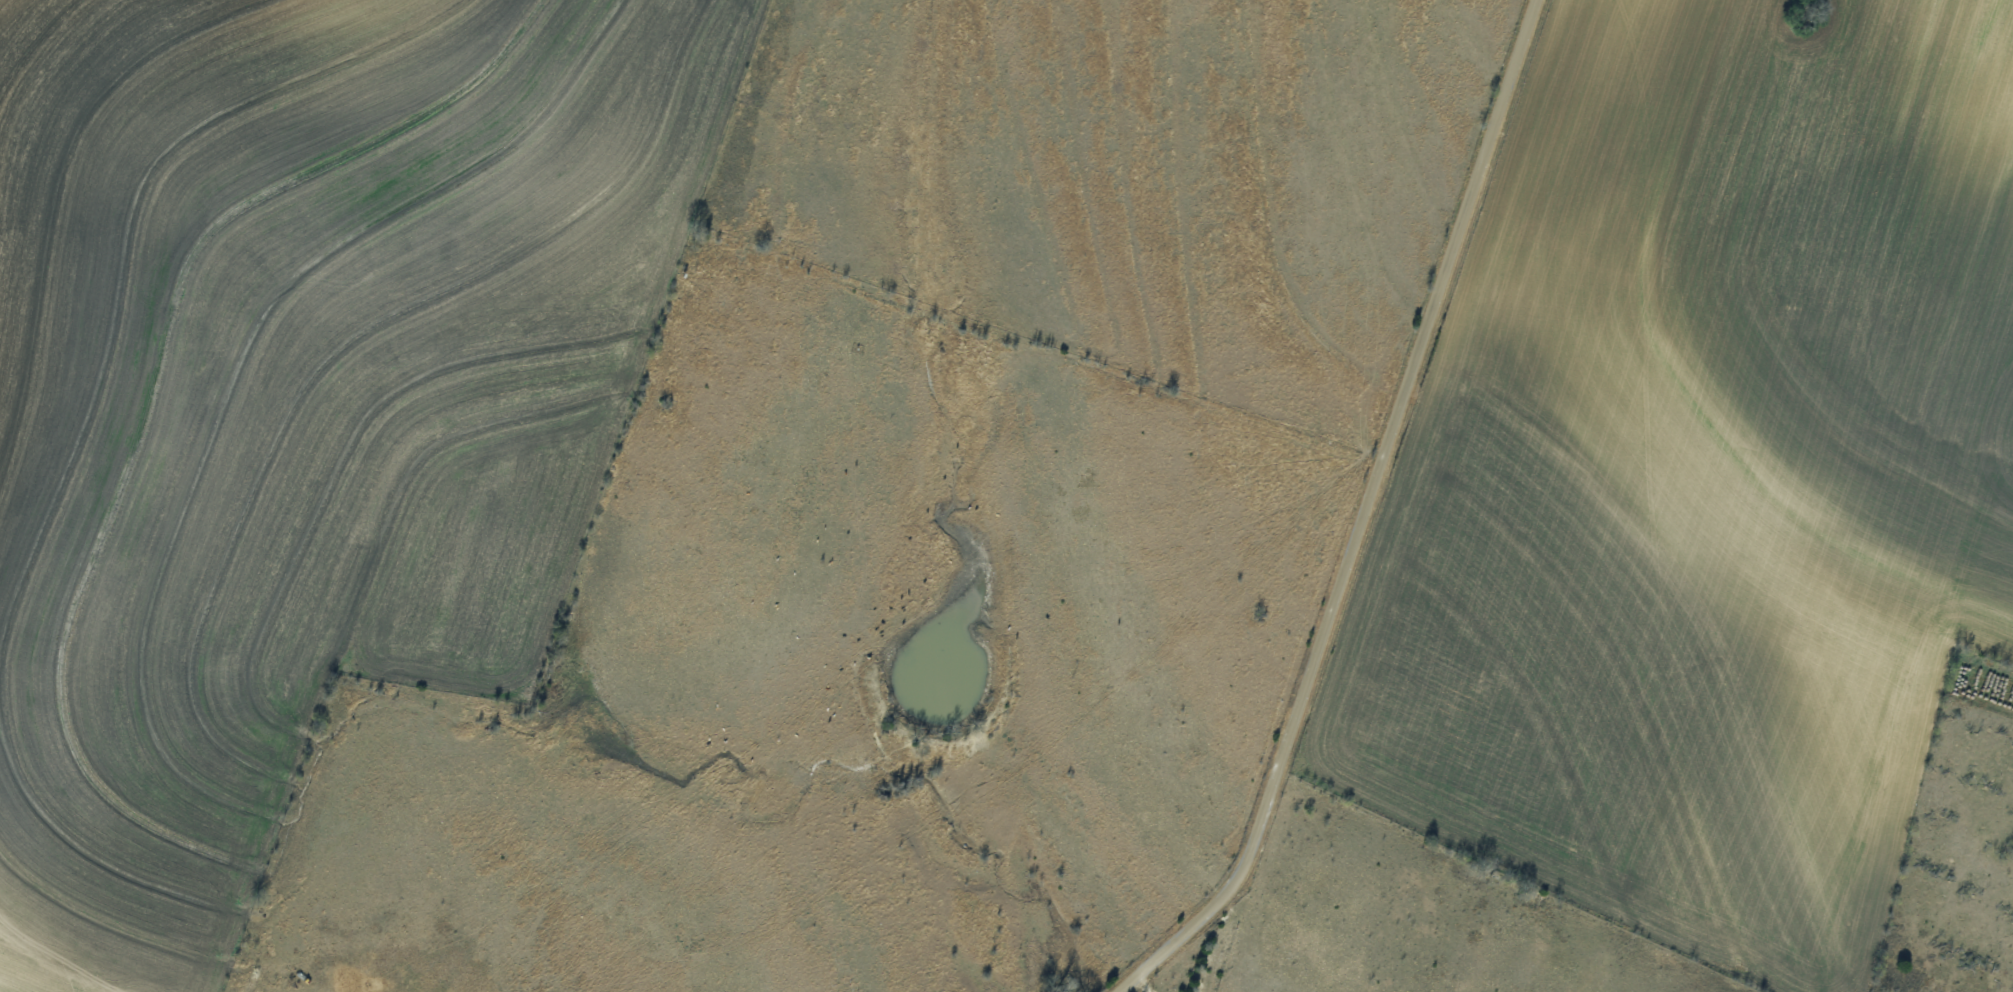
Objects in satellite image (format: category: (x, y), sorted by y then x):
road: (1376, 510)
road: (1227, 958)
road: (26, 969)

